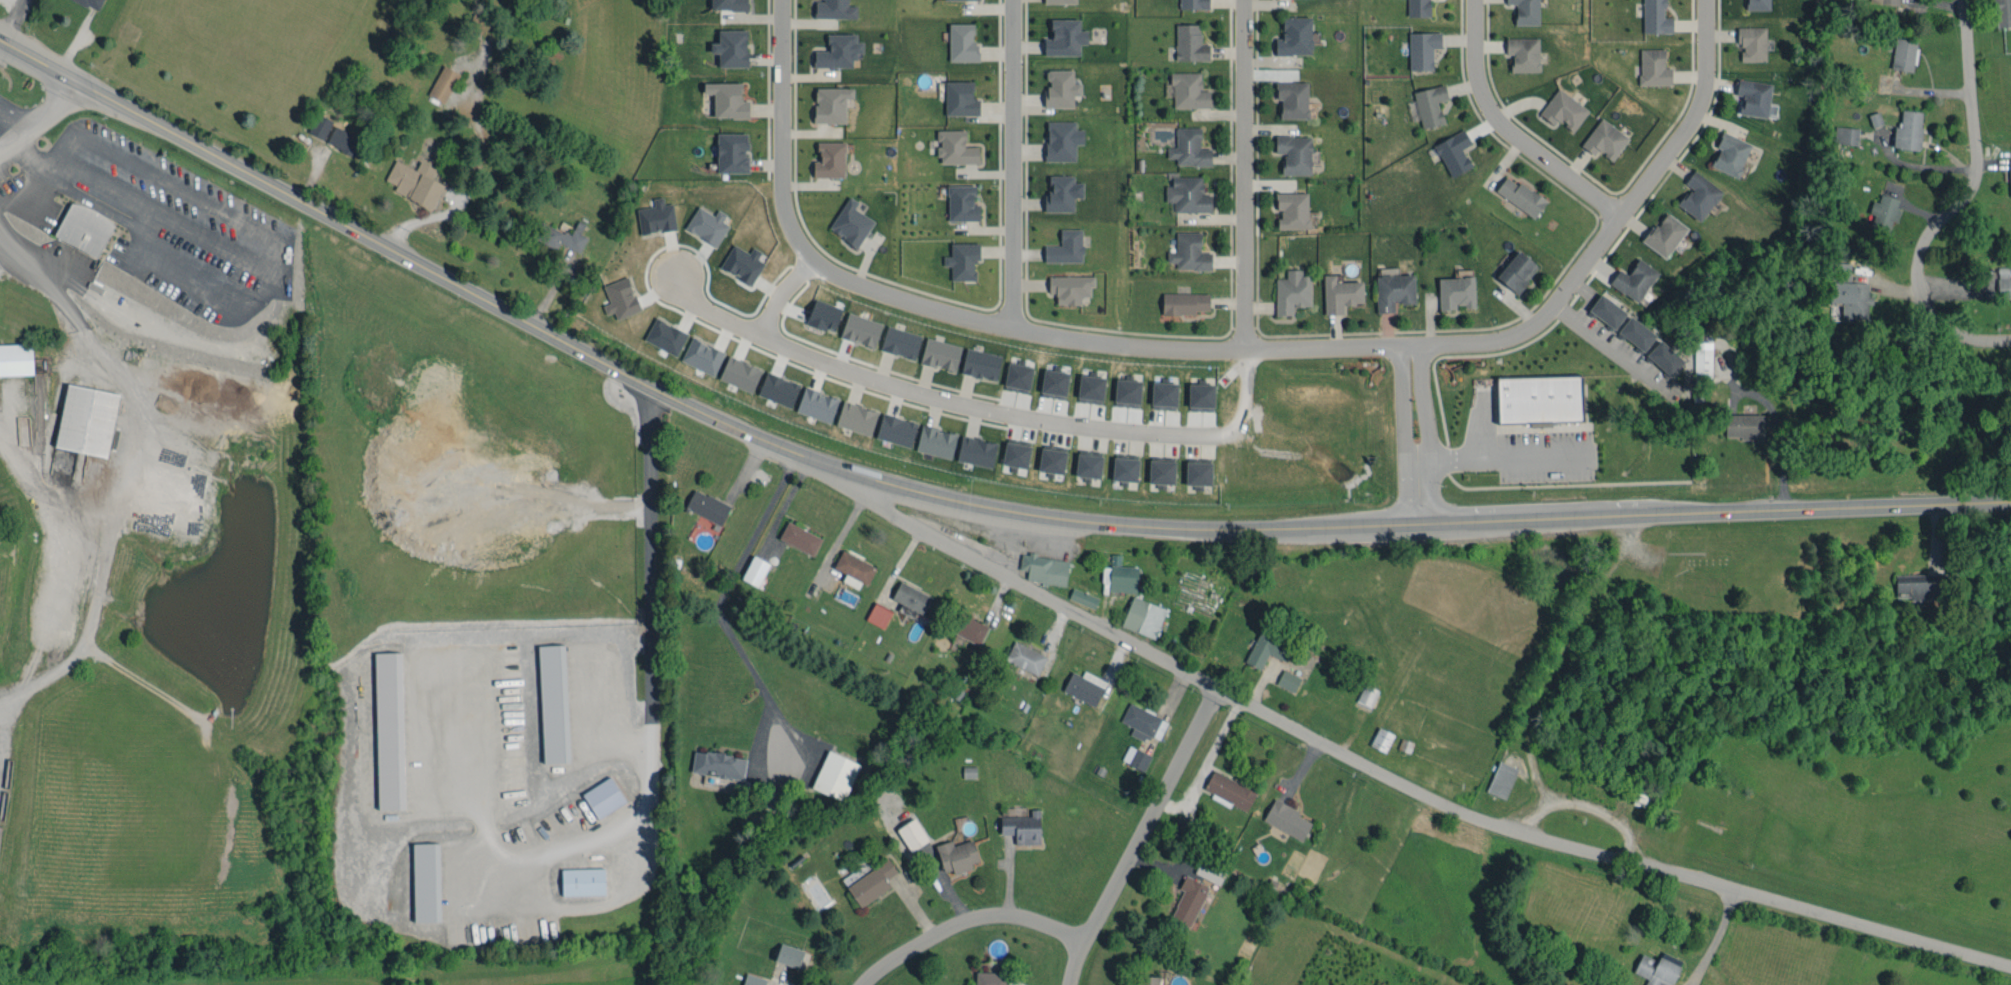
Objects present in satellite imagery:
building: (1055, 0)
building: (1888, 0)
building: (725, 3)
building: (1190, 3)
building: (1755, 3)
building: (92, 4)
building: (1415, 6)
building: (832, 7)
building: (1523, 10)
building: (2001, 11)
building: (1653, 16)
road: (9, 19)
building: (1292, 34)
building: (1061, 35)
building: (959, 40)
building: (1749, 40)
building: (1186, 41)
building: (728, 45)
building: (1419, 47)
building: (835, 48)
building: (1520, 51)
building: (1900, 52)
building: (1650, 65)
building: (439, 81)
building: (1057, 86)
building: (1186, 88)
building: (1752, 95)
building: (957, 96)
building: (1290, 97)
building: (724, 98)
road: (50, 100)
building: (828, 102)
building: (1427, 103)
building: (1560, 108)
building: (316, 122)
road: (24, 124)
building: (1905, 128)
building: (1842, 132)
road: (1503, 135)
building: (341, 137)
building: (1059, 137)
building: (1601, 137)
building: (952, 145)
building: (1186, 145)
building: (729, 149)
building: (1291, 151)
building: (1451, 151)
building: (1727, 151)
building: (827, 157)
road: (1003, 164)
road: (1240, 174)
building: (2008, 175)
building: (412, 178)
road: (466, 183)
road: (22, 185)
building: (1055, 191)
building: (1184, 192)
building: (1696, 193)
building: (1518, 194)
building: (959, 200)
road: (1634, 201)
road: (1954, 206)
building: (1289, 208)
building: (1881, 211)
building: (847, 219)
building: (82, 227)
building: (557, 232)
building: (1662, 232)
road: (208, 237)
building: (1062, 245)
road: (277, 249)
road: (37, 250)
building: (1186, 250)
building: (959, 258)
building: (1514, 270)
building: (1631, 278)
building: (2002, 281)
building: (1067, 286)
building: (1391, 289)
building: (1289, 290)
building: (1453, 290)
building: (1337, 292)
building: (1181, 300)
building: (1604, 309)
building: (820, 311)
road: (705, 314)
building: (857, 325)
road: (1003, 327)
building: (1634, 332)
building: (897, 339)
building: (937, 350)
building: (14, 355)
building: (1662, 356)
building: (1699, 359)
building: (978, 360)
road: (310, 366)
building: (736, 370)
building: (1015, 372)
building: (1051, 378)
building: (1088, 383)
building: (775, 385)
building: (1124, 387)
building: (1161, 391)
building: (1198, 391)
building: (1537, 397)
building: (813, 400)
building: (853, 414)
road: (984, 414)
building: (83, 415)
building: (1742, 423)
building: (892, 426)
road: (1412, 432)
building: (932, 437)
building: (973, 447)
building: (1013, 450)
road: (1501, 454)
building: (1049, 456)
building: (1086, 461)
building: (1122, 465)
building: (1159, 467)
building: (1195, 469)
road: (952, 498)
building: (704, 503)
building: (796, 534)
building: (851, 565)
building: (1041, 565)
building: (752, 567)
building: (1117, 574)
building: (1079, 594)
building: (911, 596)
road: (253, 599)
road: (720, 602)
building: (875, 612)
building: (1140, 613)
road: (394, 644)
building: (1263, 646)
building: (1022, 654)
building: (1285, 677)
building: (1081, 683)
building: (1137, 718)
building: (715, 761)
building: (832, 772)
building: (1497, 776)
road: (1408, 784)
building: (1227, 786)
building: (600, 793)
road: (1583, 803)
building: (1284, 816)
building: (1020, 824)
road: (1140, 834)
building: (953, 852)
building: (579, 878)
building: (868, 879)
building: (1185, 897)
road: (968, 920)
road: (1714, 937)
building: (786, 951)
building: (1654, 968)
building: (987, 976)
building: (749, 978)
building: (1142, 978)

